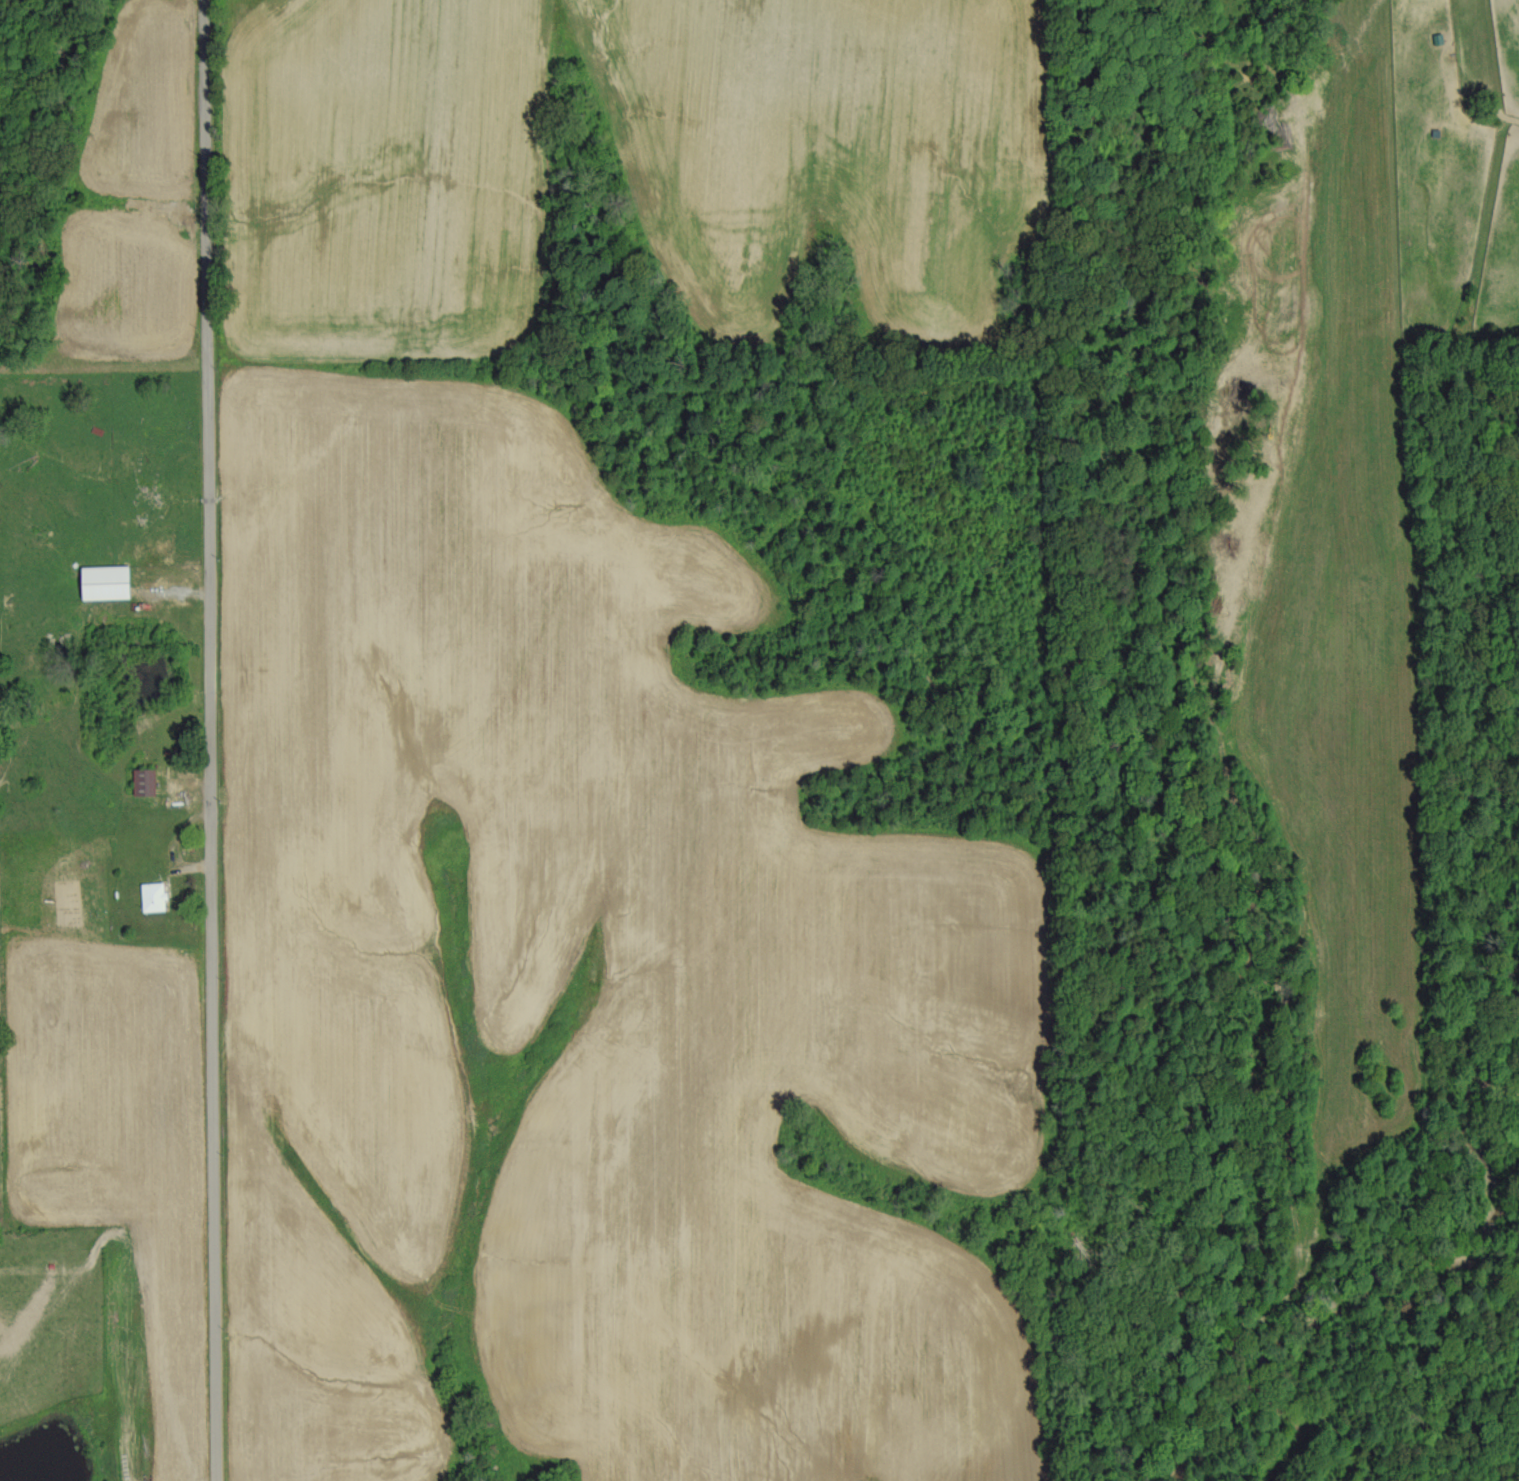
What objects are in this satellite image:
building: (109, 580)
road: (211, 740)
building: (145, 780)
building: (155, 895)

